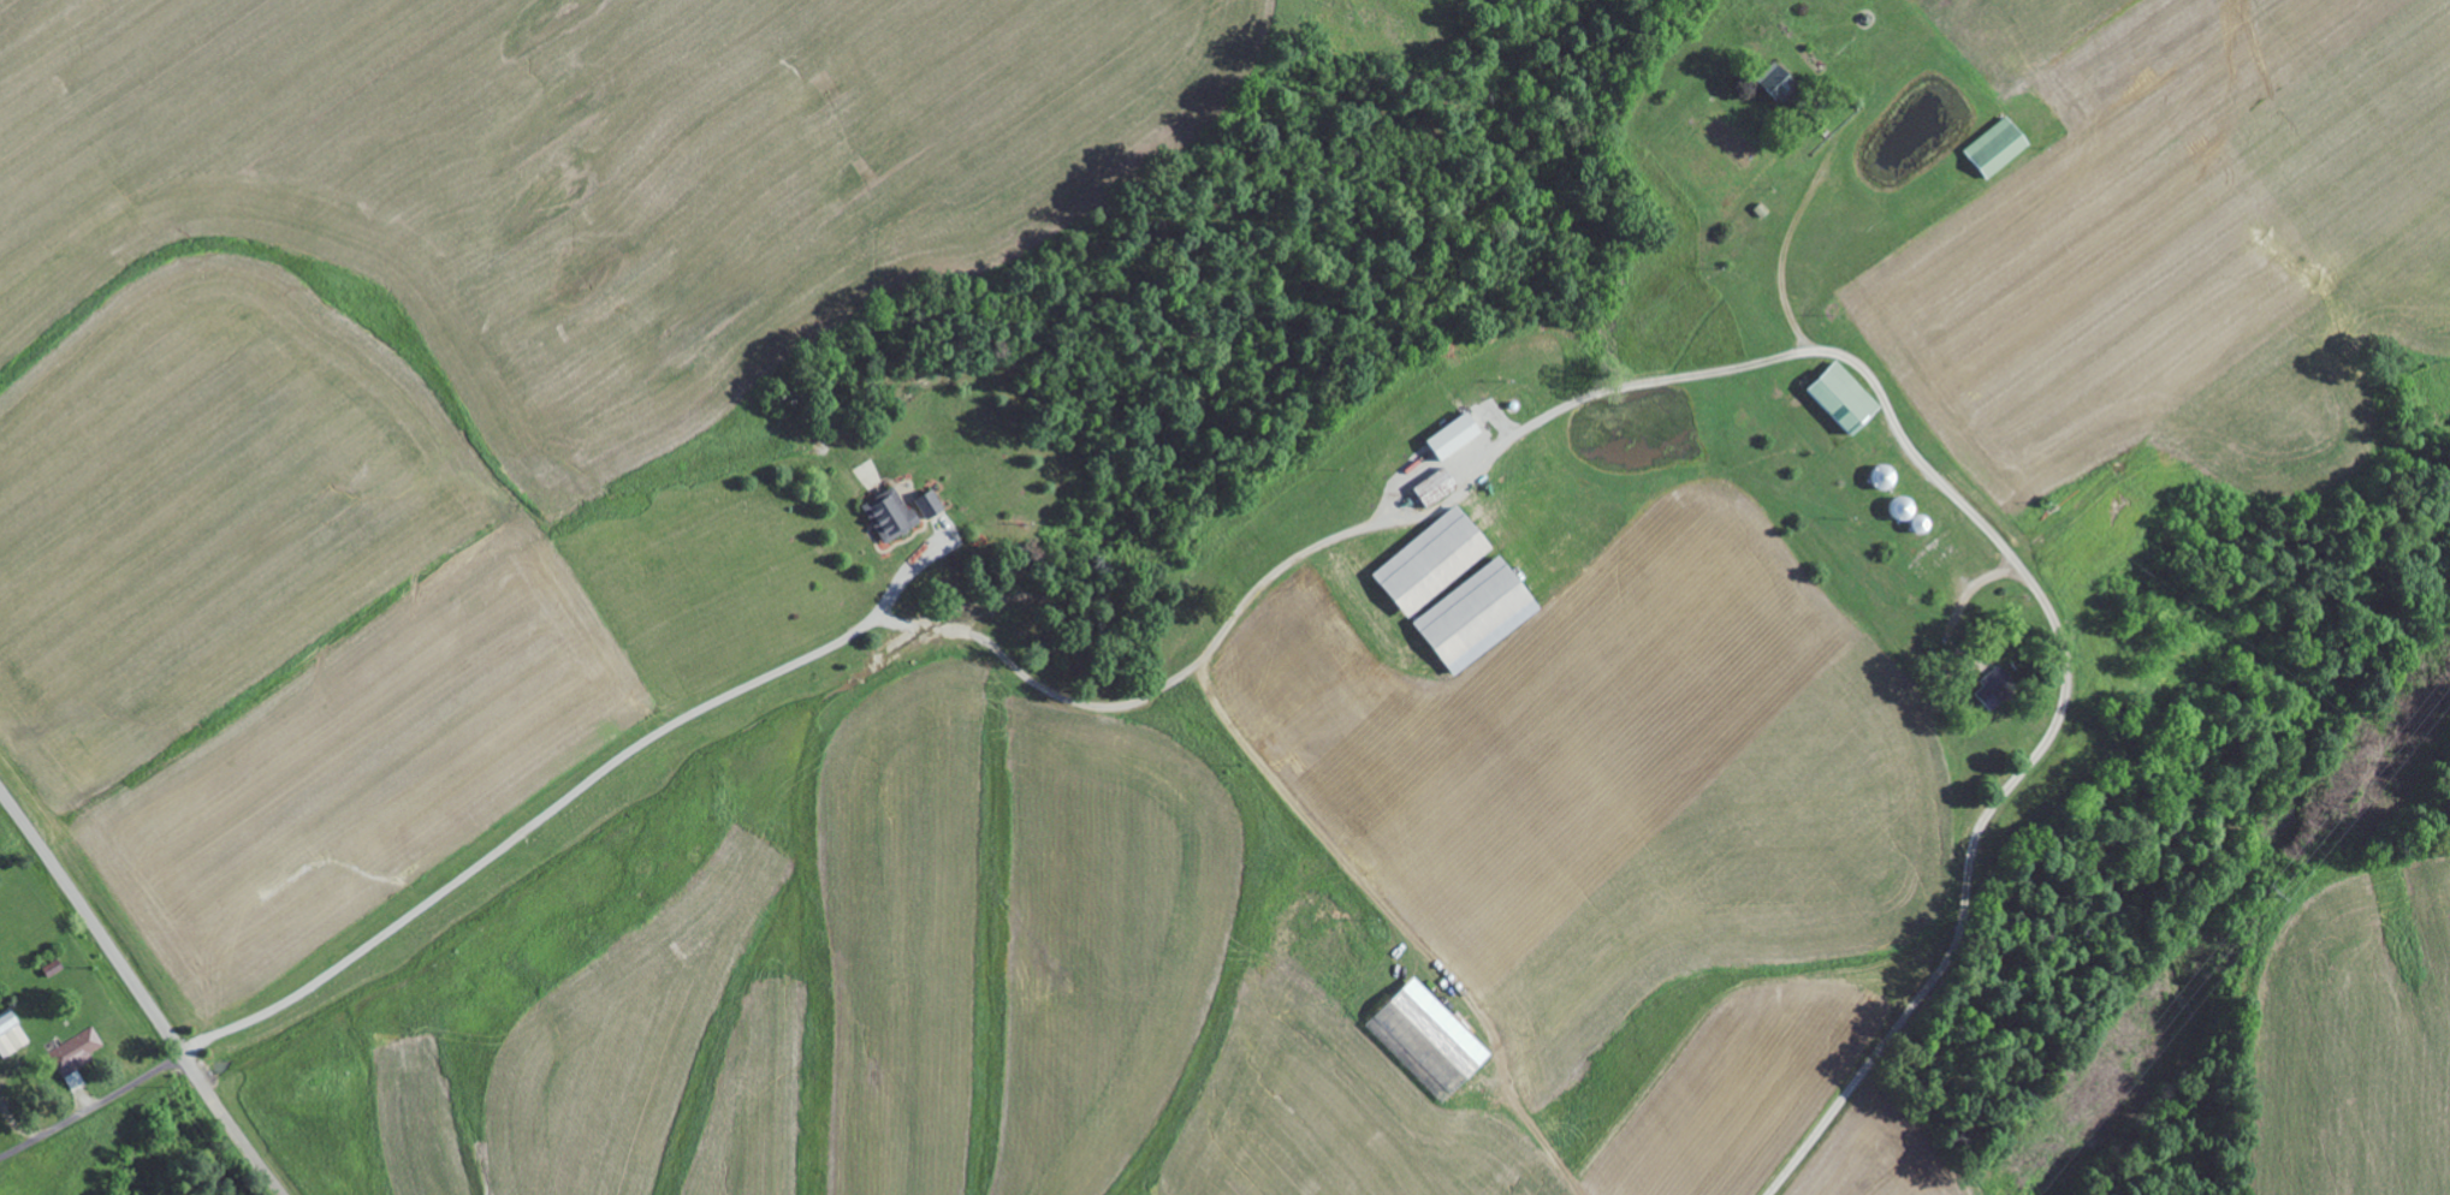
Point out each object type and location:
building: (1779, 78)
building: (1989, 148)
building: (1833, 396)
building: (1447, 436)
building: (1428, 489)
building: (932, 504)
building: (894, 513)
building: (1422, 561)
building: (1467, 616)
building: (1989, 690)
road: (2043, 739)
road: (140, 992)
building: (12, 1034)
building: (1422, 1038)
building: (78, 1056)
road: (91, 1110)

